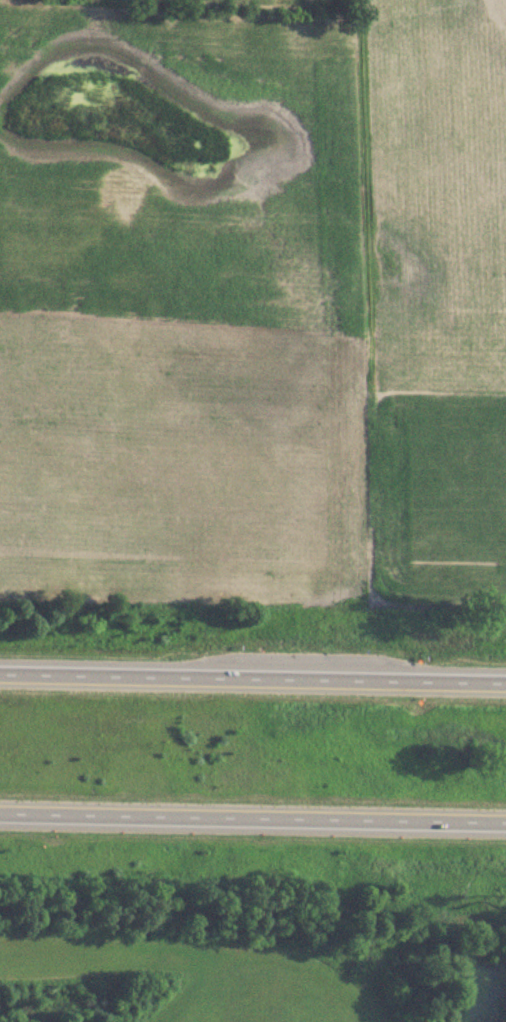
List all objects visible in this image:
road: (253, 676)
road: (253, 816)

